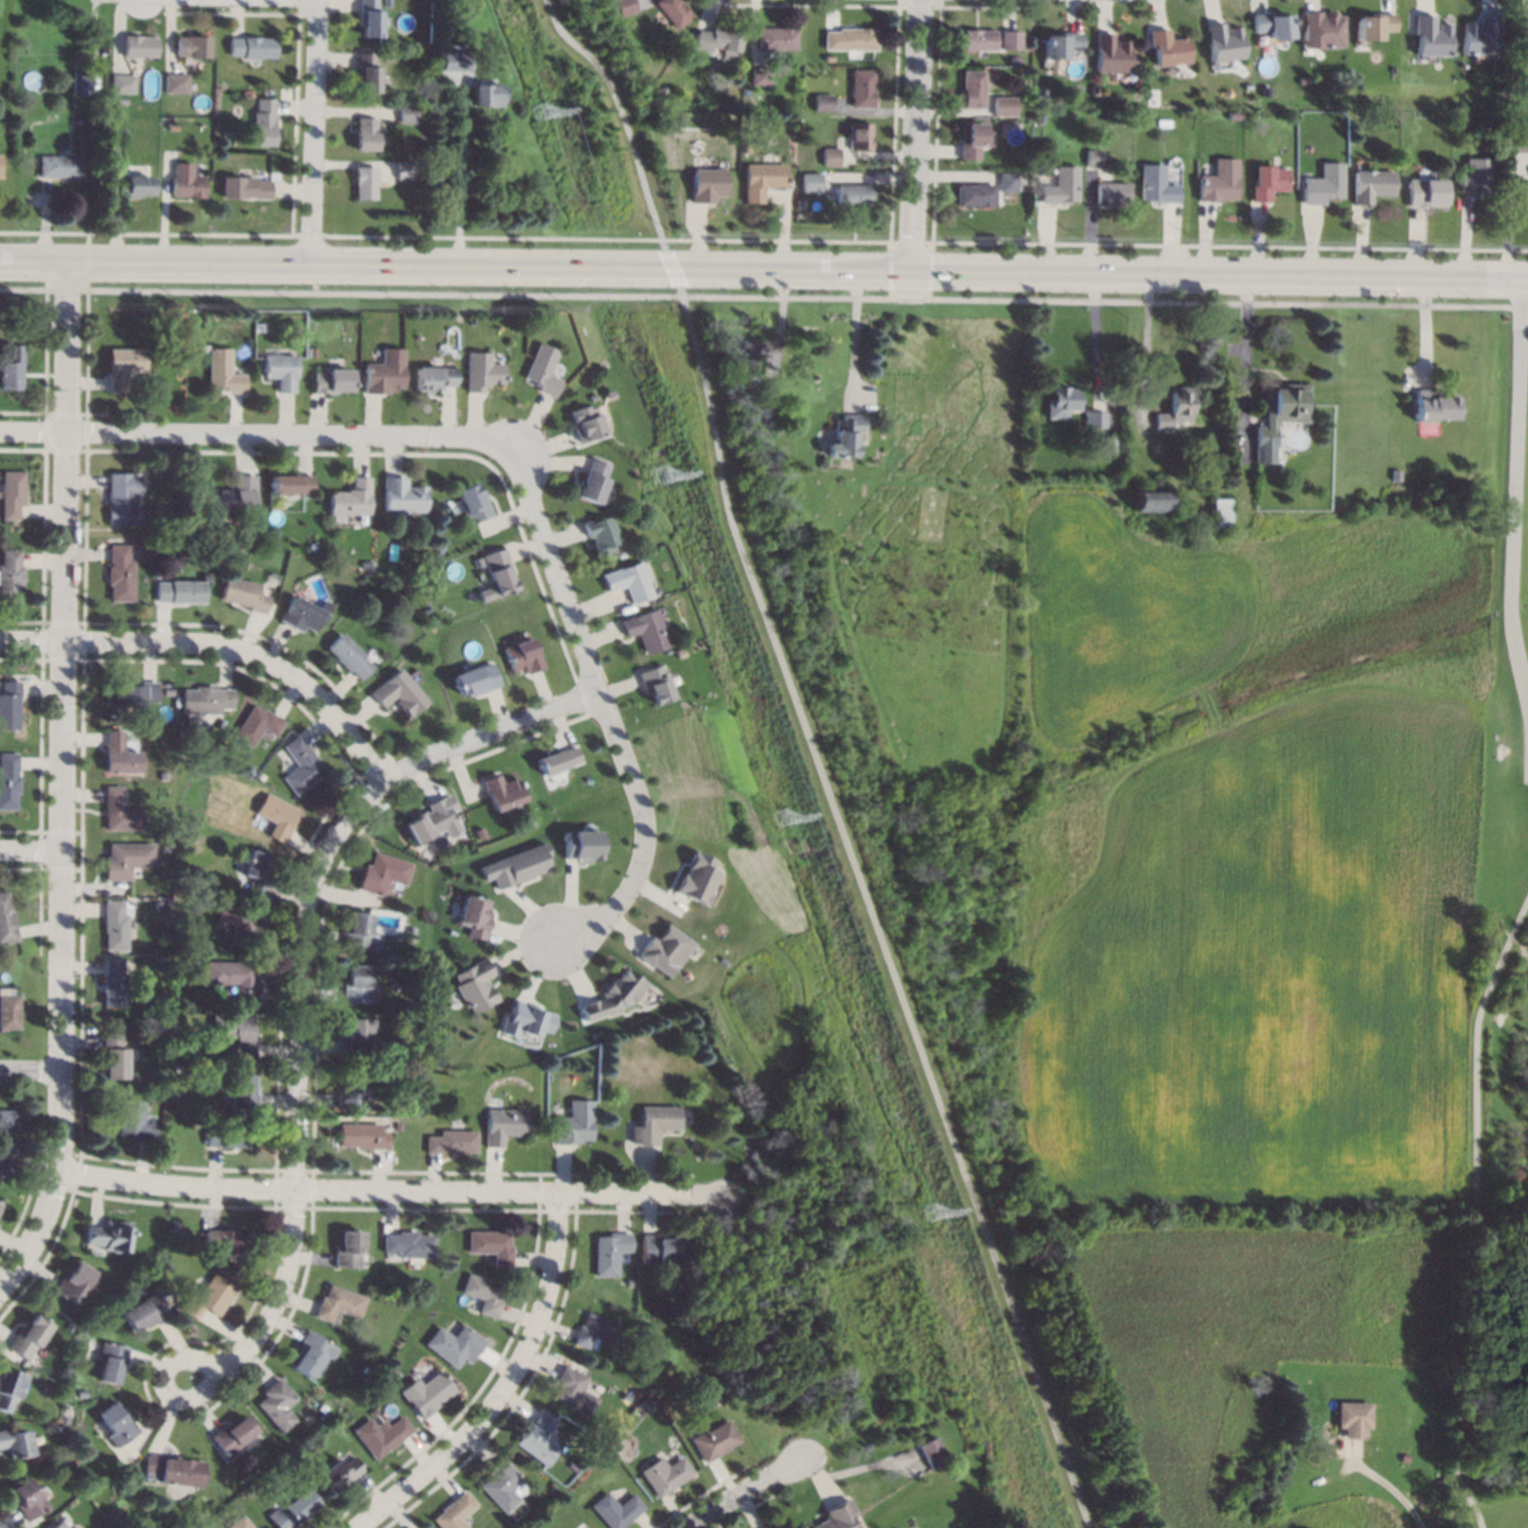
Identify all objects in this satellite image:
building: (387, 3)
building: (626, 6)
building: (674, 11)
building: (368, 18)
building: (1523, 20)
building: (623, 24)
building: (1372, 25)
building: (1271, 26)
building: (1320, 29)
building: (674, 35)
building: (1430, 35)
building: (1479, 35)
building: (717, 38)
building: (777, 38)
building: (850, 38)
building: (976, 38)
building: (1008, 39)
building: (1222, 42)
building: (1059, 44)
building: (138, 45)
building: (191, 46)
building: (251, 47)
building: (1166, 47)
building: (1109, 53)
building: (387, 56)
building: (829, 57)
building: (1013, 58)
building: (454, 60)
building: (366, 72)
building: (760, 75)
building: (80, 79)
building: (122, 83)
building: (174, 83)
building: (861, 87)
building: (970, 88)
building: (660, 91)
building: (486, 92)
building: (1042, 92)
building: (245, 93)
building: (120, 100)
building: (823, 101)
building: (748, 105)
building: (1001, 105)
building: (406, 113)
building: (1367, 113)
building: (93, 119)
building: (262, 122)
park: (589, 125)
road: (626, 125)
building: (1515, 125)
road: (314, 132)
building: (365, 133)
building: (95, 135)
building: (860, 135)
building: (969, 139)
building: (1518, 143)
building: (748, 147)
road: (914, 149)
building: (831, 156)
building: (1093, 158)
building: (60, 165)
building: (403, 169)
building: (422, 173)
building: (1478, 176)
road: (460, 177)
building: (763, 179)
building: (185, 181)
building: (812, 181)
building: (1218, 181)
building: (1266, 181)
building: (1005, 182)
building: (364, 183)
building: (710, 184)
building: (1155, 184)
building: (1322, 184)
building: (1371, 185)
building: (131, 186)
building: (1062, 186)
building: (244, 187)
building: (1424, 191)
building: (1112, 192)
building: (853, 194)
building: (974, 194)
building: (800, 203)
road: (763, 270)
road: (69, 277)
road: (315, 278)
road: (34, 290)
road: (377, 293)
road: (1106, 302)
building: (260, 328)
road: (1094, 338)
road: (854, 340)
road: (1146, 346)
building: (311, 352)
road: (1243, 358)
building: (122, 366)
building: (12, 368)
building: (751, 369)
building: (281, 371)
building: (481, 371)
building: (544, 371)
building: (384, 372)
building: (224, 373)
building: (434, 379)
building: (332, 382)
building: (1062, 400)
building: (1431, 406)
building: (1174, 407)
building: (770, 416)
building: (1279, 416)
building: (1094, 419)
building: (588, 424)
road: (260, 434)
building: (845, 437)
building: (1106, 445)
building: (1183, 446)
building: (595, 481)
building: (291, 484)
road: (1512, 491)
building: (11, 494)
building: (235, 496)
building: (401, 496)
building: (123, 498)
building: (1149, 499)
building: (349, 500)
building: (474, 504)
building: (636, 508)
building: (1222, 513)
building: (602, 534)
building: (226, 546)
building: (311, 547)
building: (263, 548)
building: (441, 549)
building: (479, 562)
building: (422, 570)
building: (119, 573)
building: (10, 575)
building: (498, 575)
building: (205, 578)
building: (628, 582)
building: (179, 592)
building: (243, 595)
building: (304, 615)
building: (645, 631)
road: (221, 644)
building: (349, 656)
building: (523, 657)
building: (473, 680)
building: (653, 683)
building: (400, 692)
building: (131, 694)
building: (207, 700)
building: (682, 704)
building: (10, 705)
building: (165, 712)
road: (608, 715)
building: (221, 724)
building: (257, 725)
road: (490, 734)
building: (120, 755)
building: (558, 760)
building: (302, 765)
building: (262, 778)
building: (9, 781)
building: (501, 792)
road: (64, 800)
building: (120, 812)
building: (278, 817)
building: (430, 821)
building: (479, 832)
building: (163, 845)
building: (579, 845)
crop: (1245, 847)
road: (32, 851)
building: (127, 860)
building: (515, 866)
building: (258, 872)
building: (382, 874)
building: (695, 878)
park: (865, 896)
road: (866, 902)
building: (475, 915)
building: (7, 920)
building: (116, 924)
building: (241, 925)
building: (358, 932)
building: (410, 933)
building: (664, 949)
road: (296, 972)
park: (1496, 979)
building: (235, 980)
building: (413, 981)
building: (113, 984)
building: (356, 984)
building: (477, 985)
building: (614, 995)
building: (155, 1009)
building: (9, 1012)
building: (526, 1020)
building: (236, 1032)
building: (355, 1037)
building: (409, 1053)
building: (114, 1057)
road: (32, 1061)
building: (430, 1087)
building: (351, 1090)
building: (241, 1092)
building: (199, 1121)
building: (134, 1122)
building: (505, 1124)
building: (575, 1124)
building: (654, 1124)
building: (8, 1131)
building: (363, 1136)
building: (230, 1137)
building: (452, 1142)
building: (7, 1167)
road: (392, 1189)
building: (0, 1206)
building: (0, 1208)
road: (1474, 1210)
building: (110, 1236)
building: (227, 1241)
building: (409, 1245)
building: (491, 1245)
building: (660, 1247)
building: (348, 1249)
building: (610, 1253)
building: (75, 1282)
building: (213, 1294)
road: (282, 1294)
building: (483, 1294)
building: (339, 1303)
building: (145, 1312)
building: (108, 1315)
building: (594, 1331)
building: (30, 1337)
building: (454, 1345)
building: (311, 1353)
building: (111, 1362)
building: (639, 1377)
road: (497, 1381)
road: (167, 1383)
building: (10, 1388)
building: (573, 1391)
building: (83, 1393)
building: (426, 1393)
building: (719, 1401)
building: (278, 1405)
building: (1351, 1418)
building: (118, 1424)
building: (382, 1435)
building: (233, 1436)
building: (539, 1439)
building: (715, 1440)
building: (15, 1443)
building: (630, 1450)
building: (933, 1453)
building: (174, 1470)
building: (339, 1473)
building: (666, 1474)
building: (503, 1485)
building: (553, 1489)
road: (738, 1489)
road: (1395, 1496)
building: (28, 1500)
building: (55, 1506)
building: (293, 1510)
building: (618, 1510)
building: (456, 1512)
building: (113, 1515)
building: (838, 1517)
building: (240, 1523)
building: (59, 1525)
building: (205, 1527)
building: (767, 1527)

